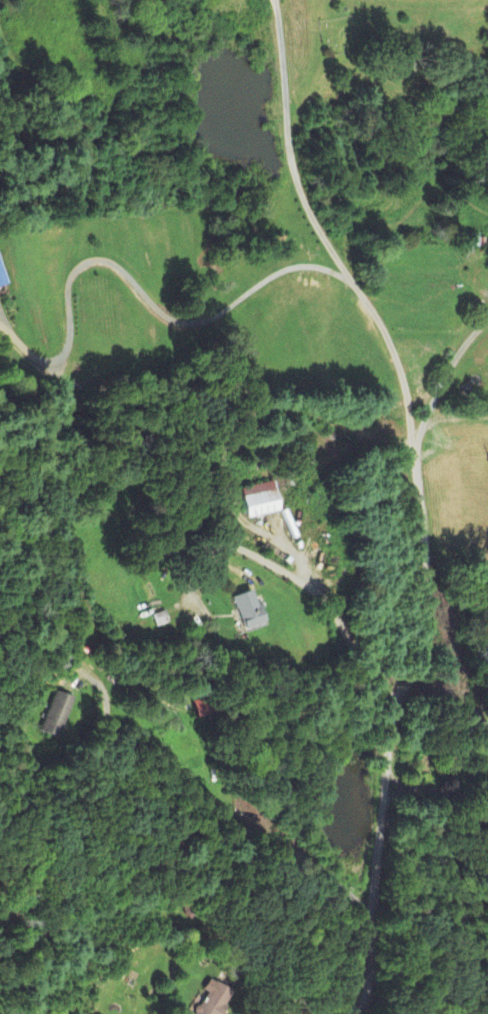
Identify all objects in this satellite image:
road: (274, 1)
park: (338, 34)
road: (320, 231)
road: (137, 278)
building: (0, 283)
building: (258, 500)
building: (246, 610)
road: (407, 660)
building: (199, 708)
building: (54, 715)
road: (186, 810)
road: (458, 884)
building: (212, 999)

